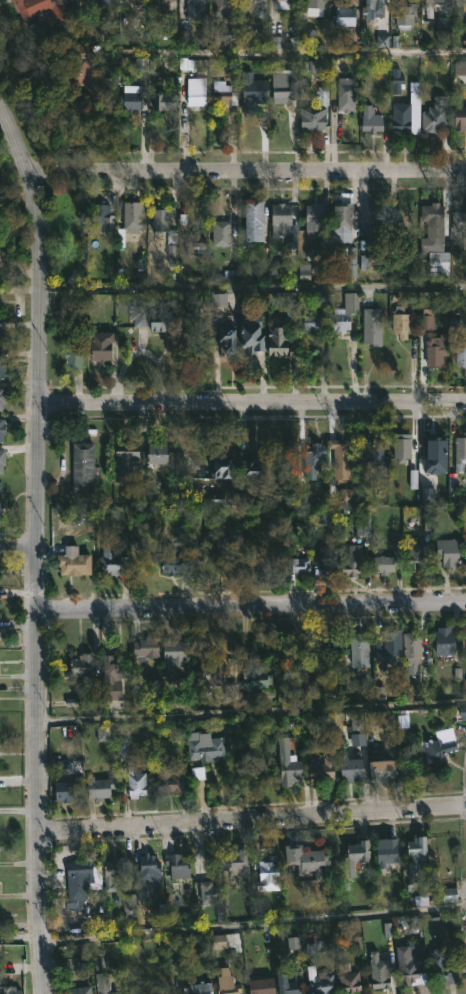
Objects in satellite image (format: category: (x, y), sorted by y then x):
building: (157, 0)
building: (164, 0)
building: (260, 0)
building: (170, 1)
building: (251, 1)
building: (464, 1)
building: (98, 2)
building: (137, 2)
building: (284, 4)
building: (426, 4)
building: (222, 6)
building: (373, 6)
building: (195, 7)
building: (313, 8)
building: (45, 9)
building: (342, 16)
building: (404, 16)
building: (221, 37)
road: (302, 54)
building: (83, 68)
building: (460, 69)
building: (282, 86)
building: (344, 89)
building: (196, 91)
building: (222, 94)
building: (322, 94)
building: (136, 97)
building: (250, 97)
building: (166, 101)
building: (406, 108)
building: (459, 117)
building: (433, 118)
building: (311, 119)
building: (369, 121)
road: (246, 171)
building: (132, 214)
building: (101, 216)
building: (342, 216)
building: (280, 217)
building: (311, 217)
building: (433, 217)
building: (461, 218)
building: (251, 220)
building: (161, 222)
building: (219, 232)
building: (194, 245)
building: (406, 245)
building: (376, 246)
road: (20, 269)
building: (437, 269)
road: (252, 288)
building: (343, 312)
building: (371, 320)
building: (165, 322)
building: (399, 324)
building: (311, 326)
building: (248, 329)
building: (225, 338)
building: (279, 340)
building: (101, 345)
building: (435, 349)
building: (75, 351)
building: (460, 354)
building: (3, 368)
building: (3, 397)
road: (251, 401)
building: (2, 429)
building: (400, 448)
building: (459, 452)
building: (163, 453)
building: (373, 453)
building: (313, 457)
building: (340, 459)
building: (2, 460)
building: (130, 465)
building: (249, 465)
building: (81, 467)
building: (221, 467)
building: (1, 503)
road: (31, 545)
road: (15, 549)
building: (446, 552)
building: (413, 553)
building: (464, 553)
building: (117, 559)
building: (237, 560)
building: (324, 560)
building: (351, 560)
building: (76, 562)
building: (178, 562)
building: (382, 564)
building: (296, 567)
road: (248, 605)
building: (443, 640)
building: (411, 644)
building: (390, 645)
building: (357, 646)
building: (144, 647)
building: (326, 649)
building: (175, 651)
building: (82, 664)
building: (210, 669)
building: (110, 675)
building: (261, 685)
road: (249, 717)
building: (203, 746)
building: (437, 746)
building: (286, 758)
building: (320, 769)
building: (349, 769)
building: (379, 770)
building: (138, 779)
building: (171, 782)
building: (98, 788)
building: (65, 791)
road: (250, 822)
building: (415, 851)
building: (385, 853)
building: (353, 857)
building: (306, 860)
building: (237, 862)
building: (175, 866)
building: (143, 869)
building: (112, 872)
building: (78, 875)
building: (266, 876)
building: (207, 890)
road: (233, 933)
building: (405, 964)
building: (438, 967)
building: (378, 971)
building: (346, 979)
building: (318, 982)
building: (103, 983)
building: (225, 983)
building: (285, 985)
building: (259, 986)
building: (196, 989)
building: (11, 990)
building: (80, 990)
building: (139, 990)
building: (166, 991)
building: (118, 993)

